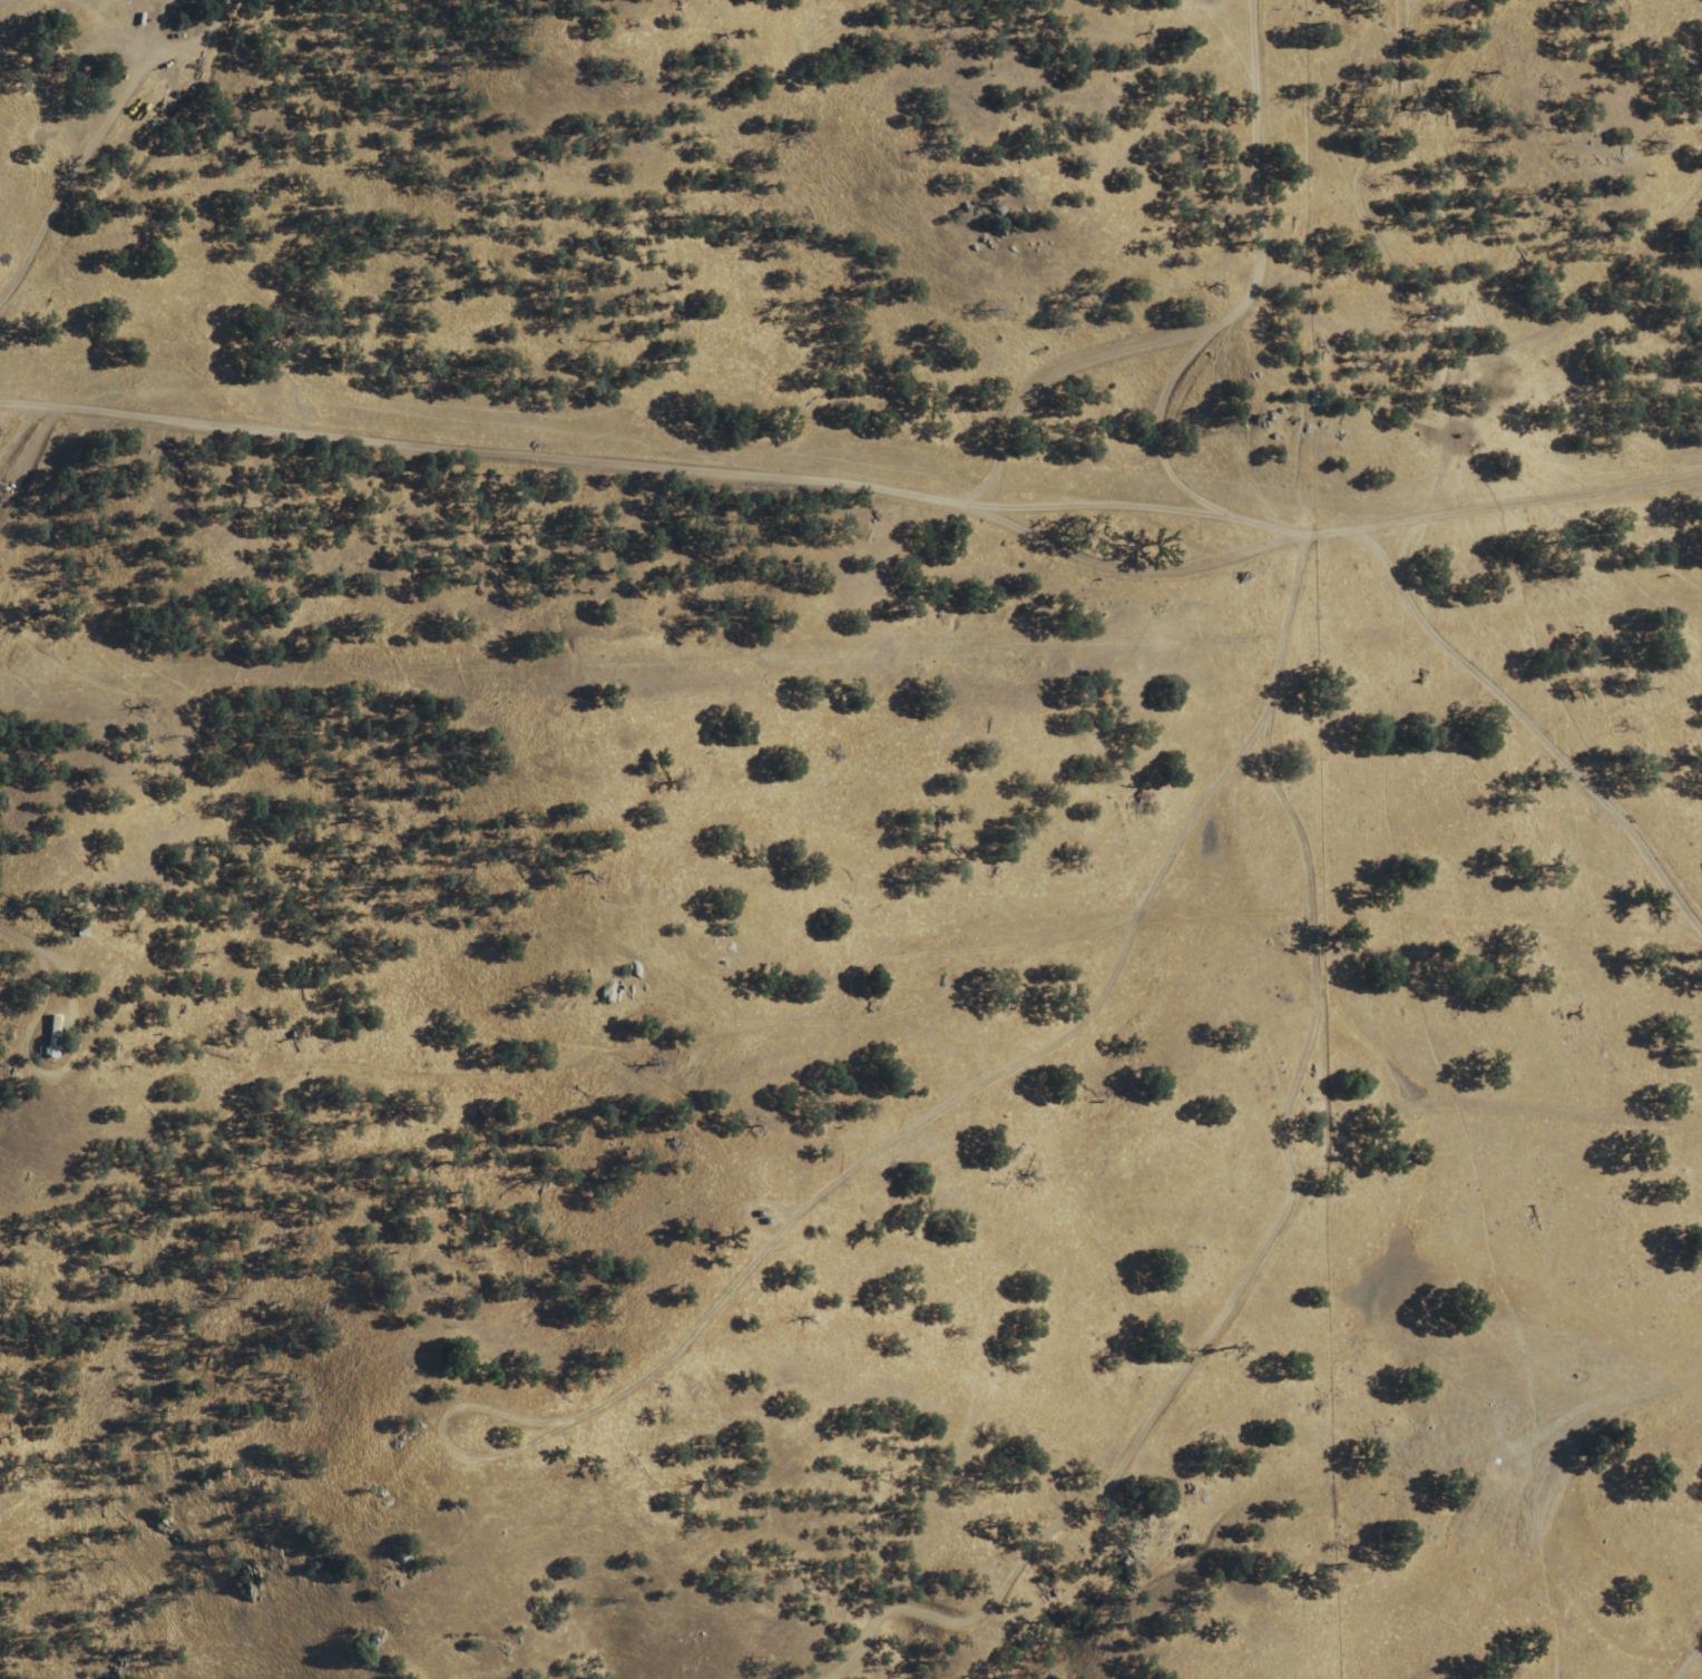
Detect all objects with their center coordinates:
road: (1255, 342)
road: (863, 498)
building: (49, 1036)
road: (1495, 1125)
road: (1299, 1211)

